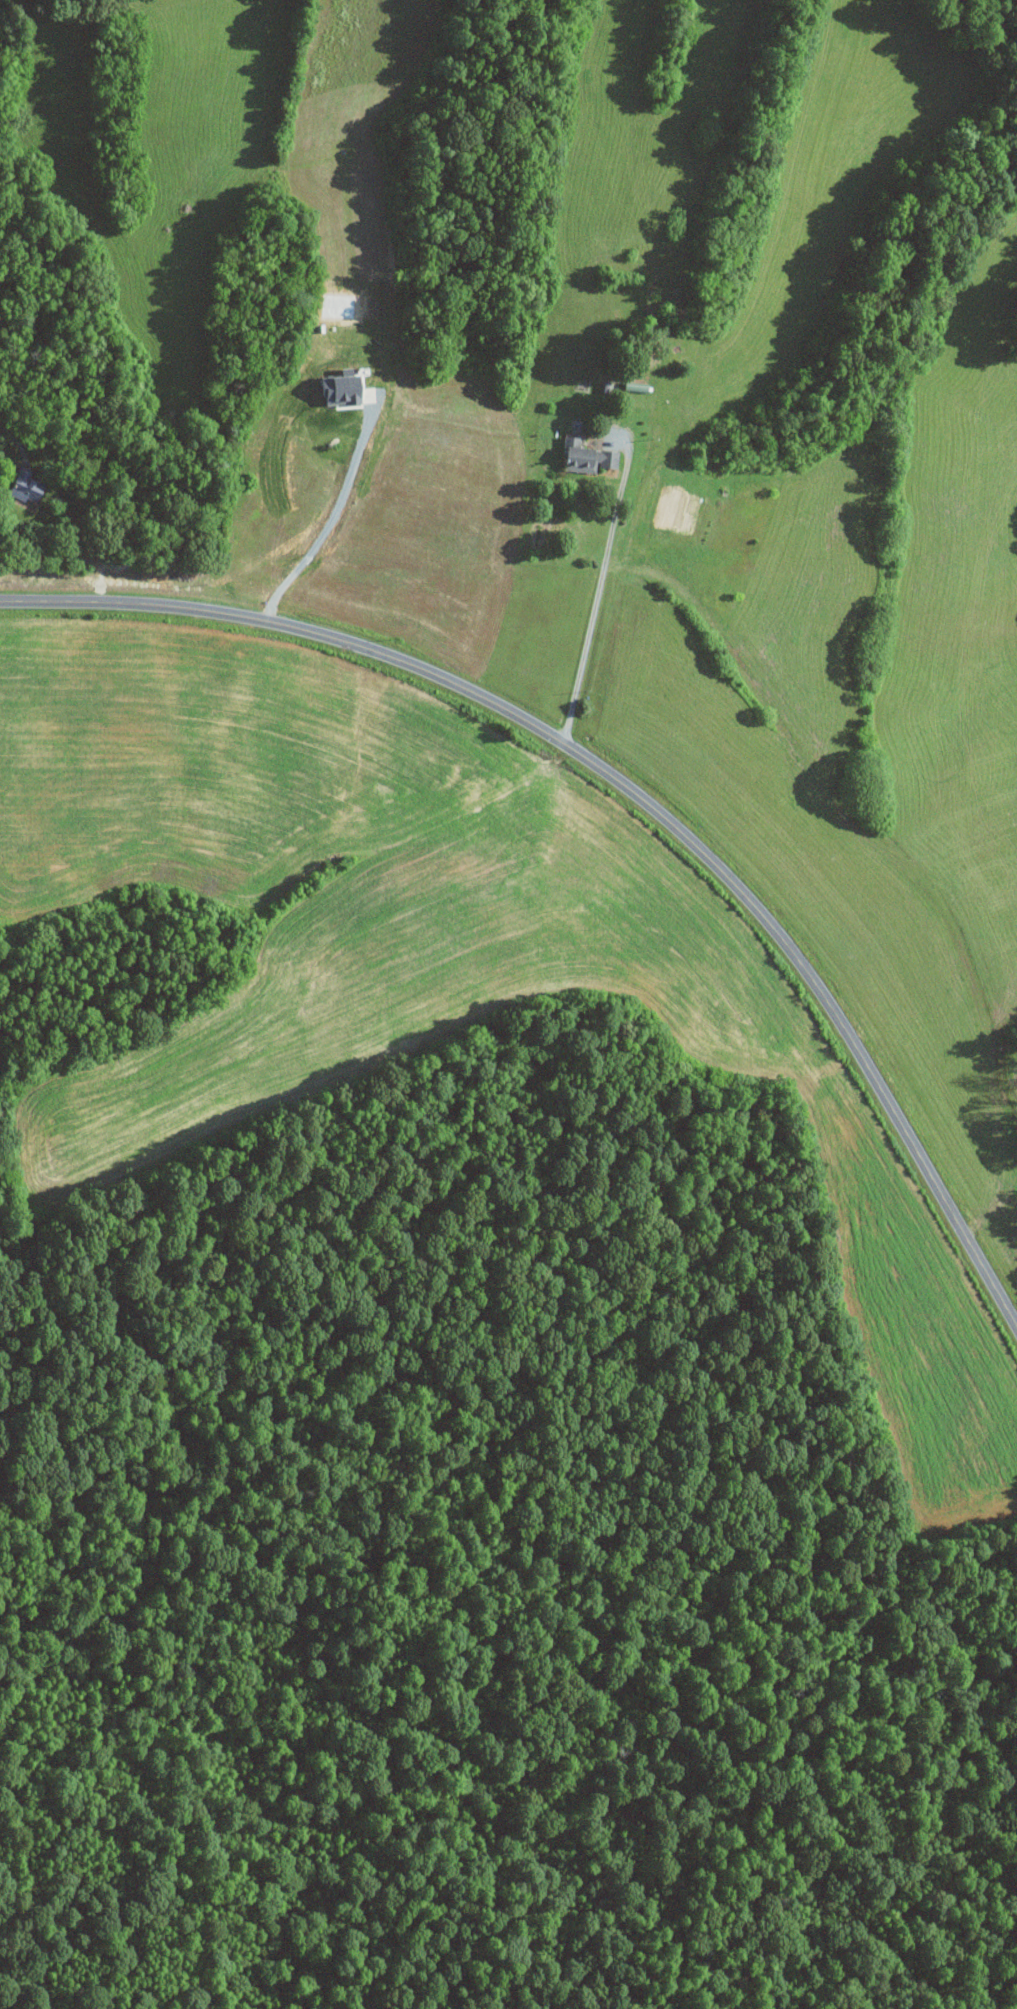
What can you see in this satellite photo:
building: (345, 388)
road: (15, 438)
building: (590, 457)
building: (31, 485)
road: (329, 525)
road: (598, 590)
road: (630, 790)

